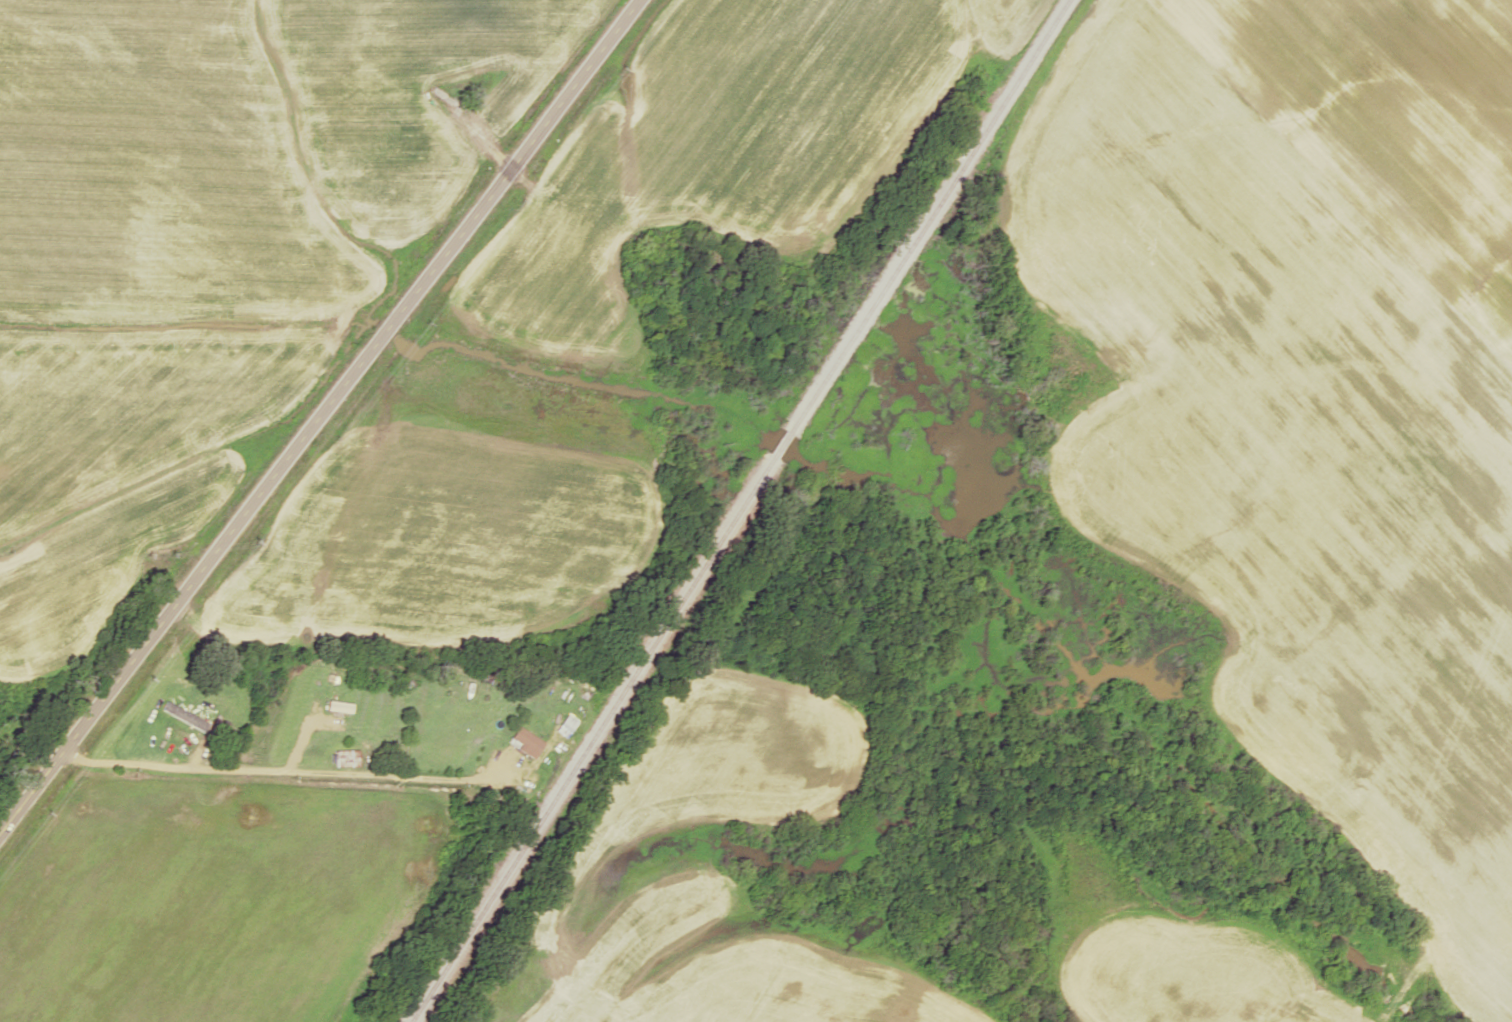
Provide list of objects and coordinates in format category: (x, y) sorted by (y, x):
building: (481, 97)
road: (319, 415)
railway: (745, 512)
building: (339, 705)
building: (183, 716)
building: (522, 737)
building: (345, 759)
road: (269, 771)

